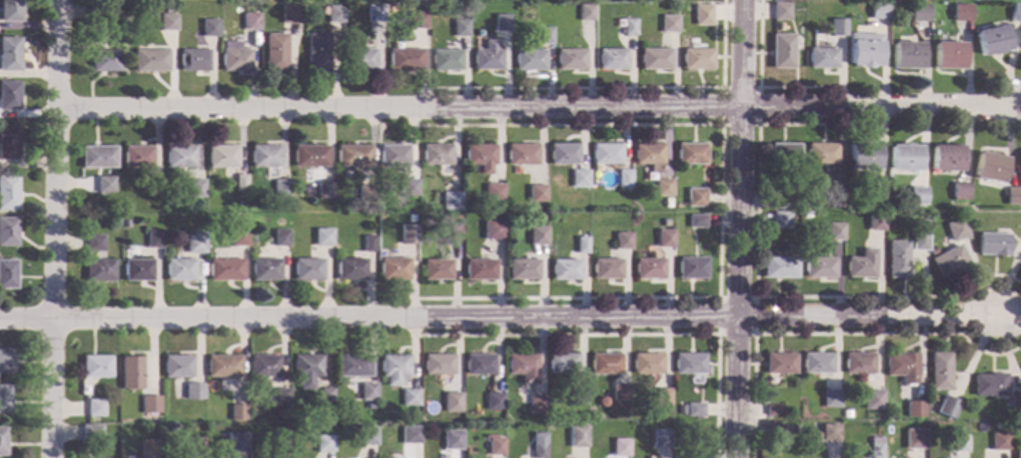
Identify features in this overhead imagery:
building: (782, 0)
building: (10, 10)
building: (879, 10)
building: (780, 11)
building: (97, 12)
building: (375, 12)
building: (586, 12)
building: (919, 12)
building: (962, 12)
building: (1015, 12)
building: (291, 13)
building: (335, 13)
building: (702, 14)
building: (418, 19)
building: (168, 21)
building: (251, 21)
building: (669, 23)
building: (629, 26)
building: (838, 26)
building: (209, 27)
building: (460, 27)
building: (501, 29)
building: (546, 35)
building: (818, 37)
building: (991, 39)
building: (864, 49)
building: (782, 50)
building: (318, 51)
building: (276, 52)
building: (9, 53)
building: (947, 54)
building: (906, 55)
building: (487, 56)
building: (235, 57)
building: (822, 57)
building: (405, 58)
building: (570, 58)
building: (612, 58)
building: (655, 58)
building: (697, 58)
building: (149, 59)
building: (193, 59)
building: (361, 59)
building: (446, 59)
building: (529, 59)
building: (105, 60)
road: (758, 83)
road: (615, 87)
building: (9, 95)
road: (528, 106)
road: (1010, 113)
road: (757, 125)
building: (9, 141)
building: (821, 152)
building: (521, 153)
building: (562, 153)
building: (605, 153)
building: (690, 153)
building: (784, 153)
building: (436, 154)
building: (137, 155)
building: (180, 155)
building: (222, 155)
building: (265, 155)
building: (310, 155)
building: (353, 155)
building: (393, 155)
building: (649, 155)
building: (97, 156)
building: (480, 156)
building: (862, 156)
building: (904, 157)
building: (945, 157)
building: (1020, 159)
building: (988, 166)
building: (623, 177)
building: (579, 178)
building: (241, 182)
building: (105, 183)
building: (294, 183)
building: (155, 186)
building: (196, 187)
building: (281, 187)
building: (408, 187)
building: (662, 187)
building: (324, 189)
building: (165, 191)
building: (961, 191)
building: (8, 192)
building: (493, 192)
building: (366, 193)
building: (536, 193)
building: (917, 195)
building: (1014, 195)
building: (695, 197)
building: (833, 198)
building: (780, 199)
building: (874, 199)
building: (283, 201)
building: (449, 201)
building: (666, 202)
road: (719, 210)
building: (965, 215)
building: (453, 217)
building: (541, 217)
building: (116, 219)
building: (696, 220)
building: (780, 220)
building: (665, 221)
building: (876, 221)
building: (125, 222)
road: (55, 229)
road: (738, 229)
building: (956, 229)
building: (492, 230)
building: (835, 230)
building: (8, 231)
building: (450, 231)
building: (408, 233)
building: (537, 235)
building: (238, 236)
building: (323, 236)
building: (281, 237)
building: (154, 238)
building: (663, 238)
building: (919, 239)
building: (622, 240)
building: (94, 242)
building: (195, 242)
building: (368, 243)
building: (993, 243)
building: (581, 244)
building: (932, 252)
building: (897, 258)
building: (948, 261)
building: (861, 264)
building: (691, 267)
building: (779, 267)
building: (819, 267)
building: (307, 268)
building: (350, 268)
building: (606, 268)
building: (648, 268)
building: (138, 269)
building: (180, 269)
building: (226, 269)
building: (266, 269)
building: (393, 269)
building: (436, 269)
building: (479, 269)
building: (522, 269)
building: (565, 269)
building: (99, 270)
building: (7, 273)
road: (753, 297)
road: (765, 297)
road: (501, 317)
road: (628, 334)
road: (830, 334)
building: (6, 359)
building: (817, 362)
building: (858, 362)
building: (479, 363)
building: (563, 363)
building: (605, 363)
building: (646, 363)
building: (689, 363)
building: (779, 363)
building: (438, 364)
building: (223, 365)
building: (264, 365)
building: (353, 365)
building: (96, 366)
building: (178, 366)
building: (902, 366)
building: (523, 367)
building: (394, 368)
building: (307, 369)
building: (940, 370)
building: (131, 372)
building: (990, 384)
building: (194, 390)
building: (368, 391)
building: (619, 391)
building: (577, 395)
building: (283, 396)
building: (326, 396)
building: (661, 396)
building: (410, 397)
building: (451, 397)
building: (4, 398)
building: (831, 398)
building: (873, 399)
building: (1013, 400)
building: (493, 401)
building: (601, 401)
building: (536, 404)
building: (369, 405)
building: (94, 407)
building: (150, 407)
building: (948, 407)
building: (915, 408)
building: (681, 409)
building: (695, 409)
building: (774, 410)
building: (326, 411)
building: (238, 412)
building: (846, 412)
building: (1018, 425)
building: (792, 428)
building: (776, 431)
building: (829, 432)
building: (90, 433)
building: (410, 434)
building: (367, 435)
building: (577, 435)
building: (816, 436)
building: (660, 437)
building: (914, 438)
building: (451, 439)
building: (2, 441)
building: (236, 441)
building: (999, 441)
building: (324, 442)
building: (957, 442)
building: (494, 444)
building: (193, 445)
building: (280, 445)
building: (876, 446)
building: (149, 447)
building: (619, 447)
building: (538, 450)
building: (689, 454)
building: (1017, 454)

